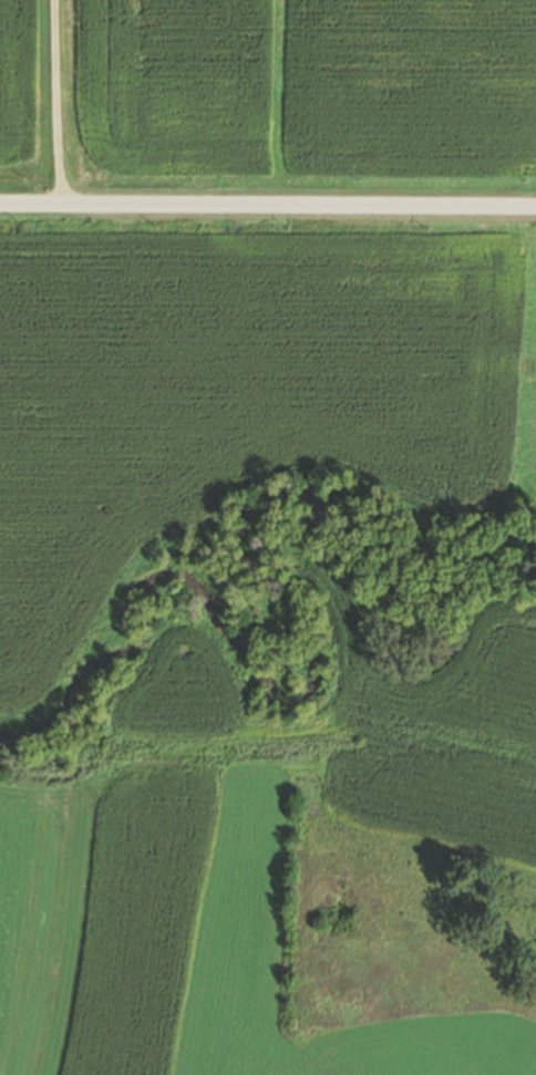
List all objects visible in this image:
road: (55, 101)
road: (268, 203)

